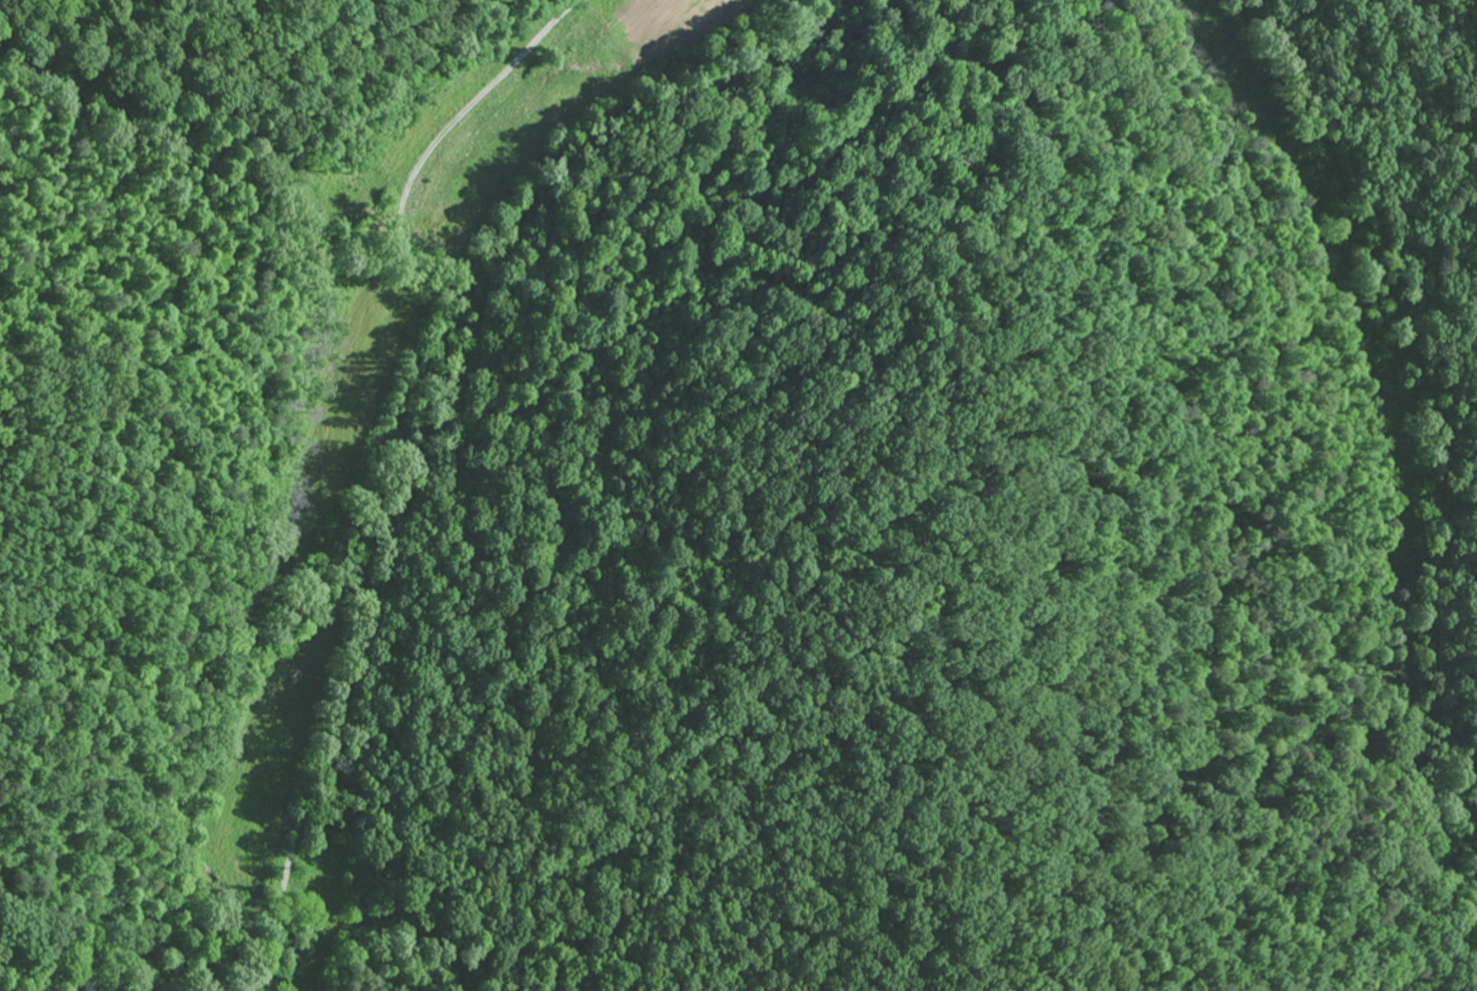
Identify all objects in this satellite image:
park: (231, 57)

